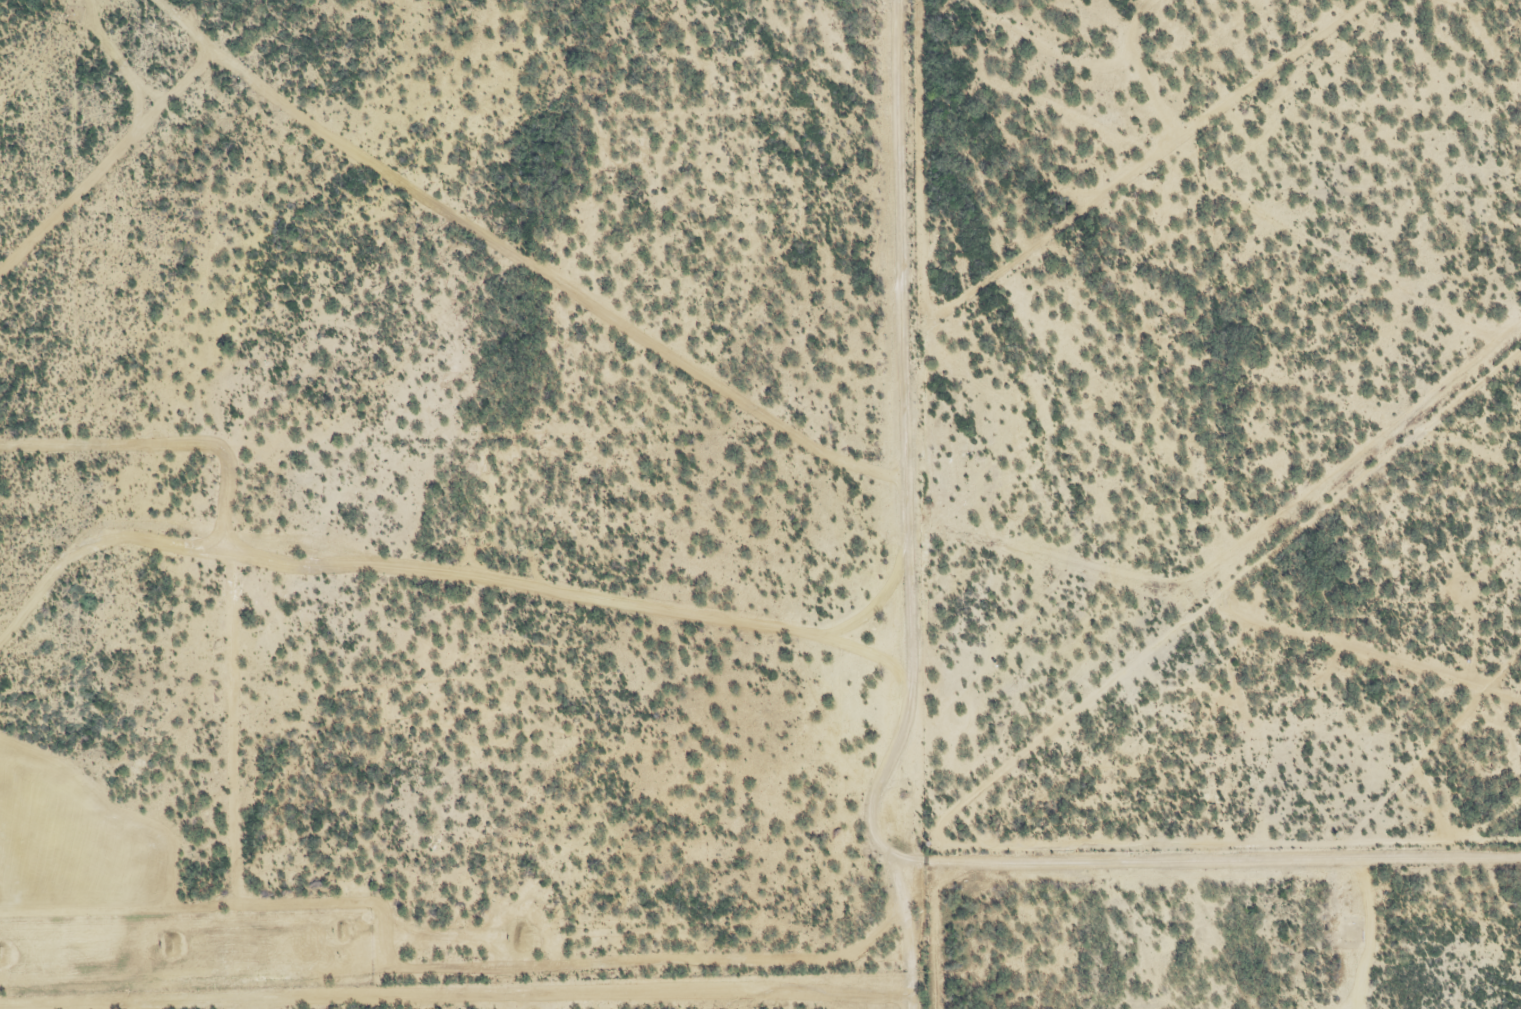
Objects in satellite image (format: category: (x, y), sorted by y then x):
road: (784, 597)

